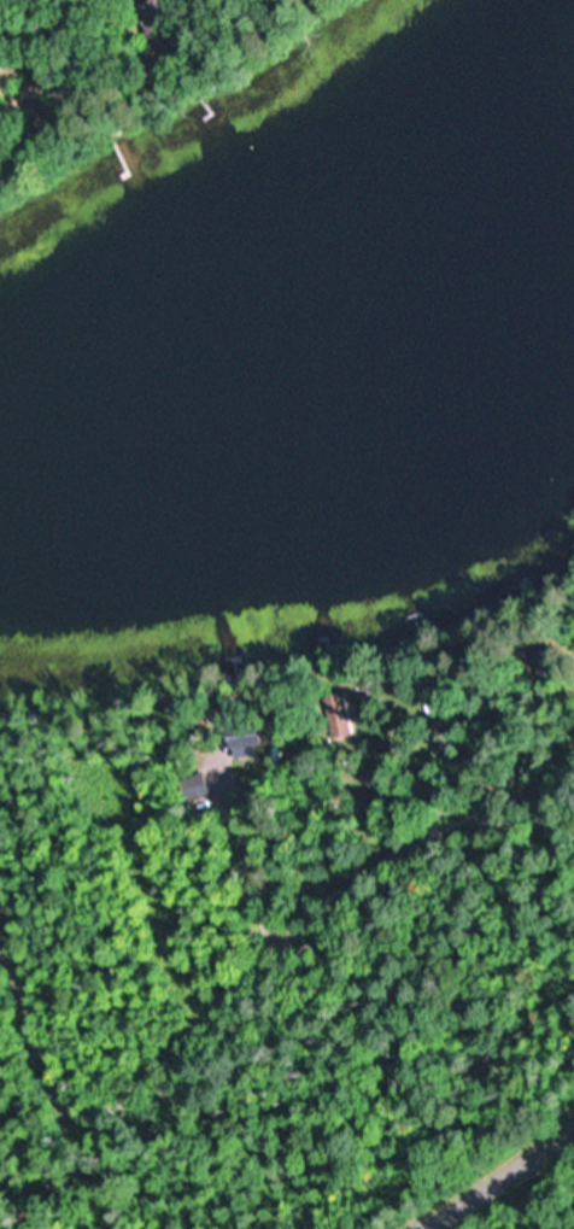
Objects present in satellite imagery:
building: (340, 715)
road: (380, 935)
road: (496, 1177)

